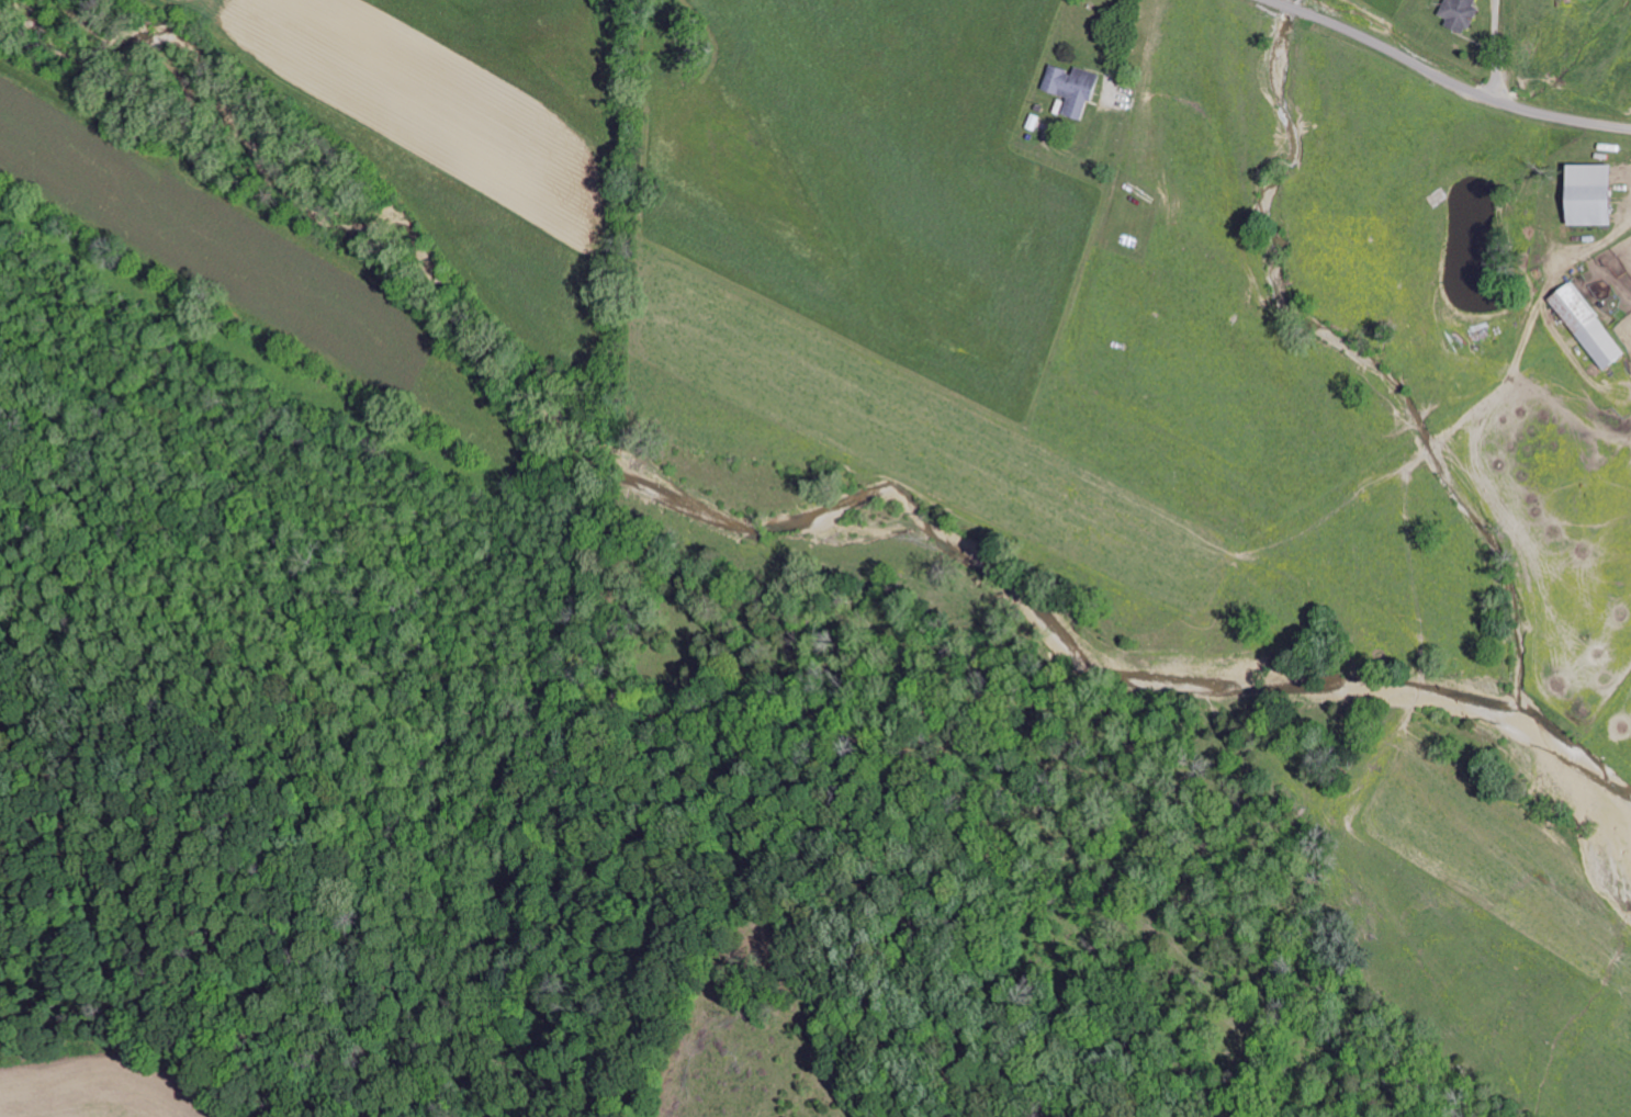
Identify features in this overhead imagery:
building: (1460, 13)
road: (1492, 49)
road: (1444, 79)
building: (1072, 88)
building: (1591, 194)
building: (1587, 325)

